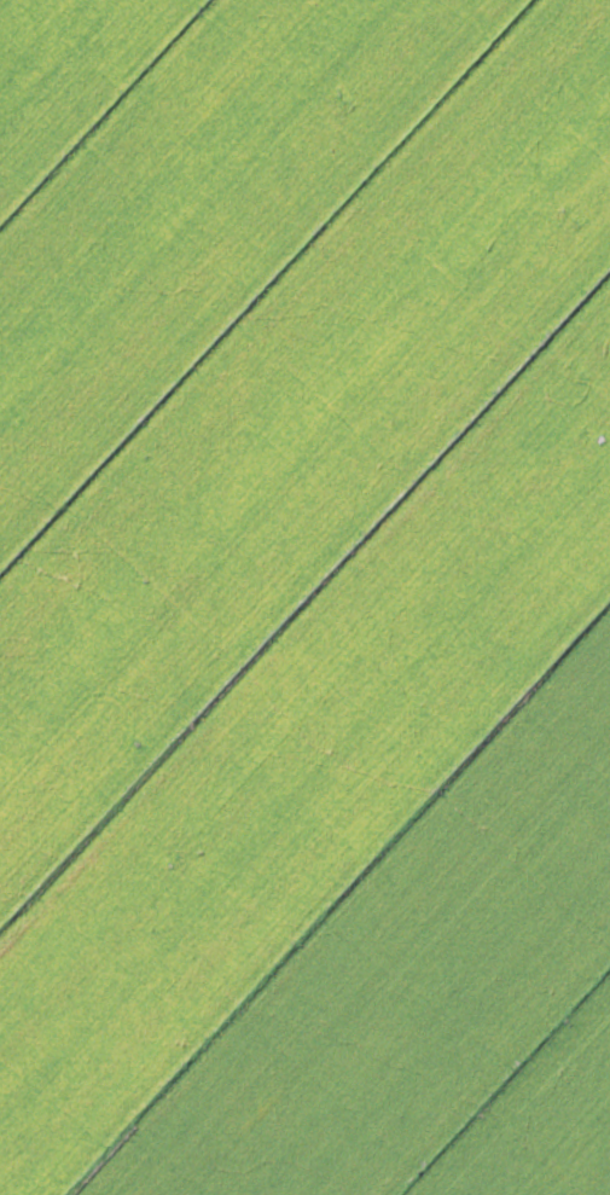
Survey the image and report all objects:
crop: (304, 597)

